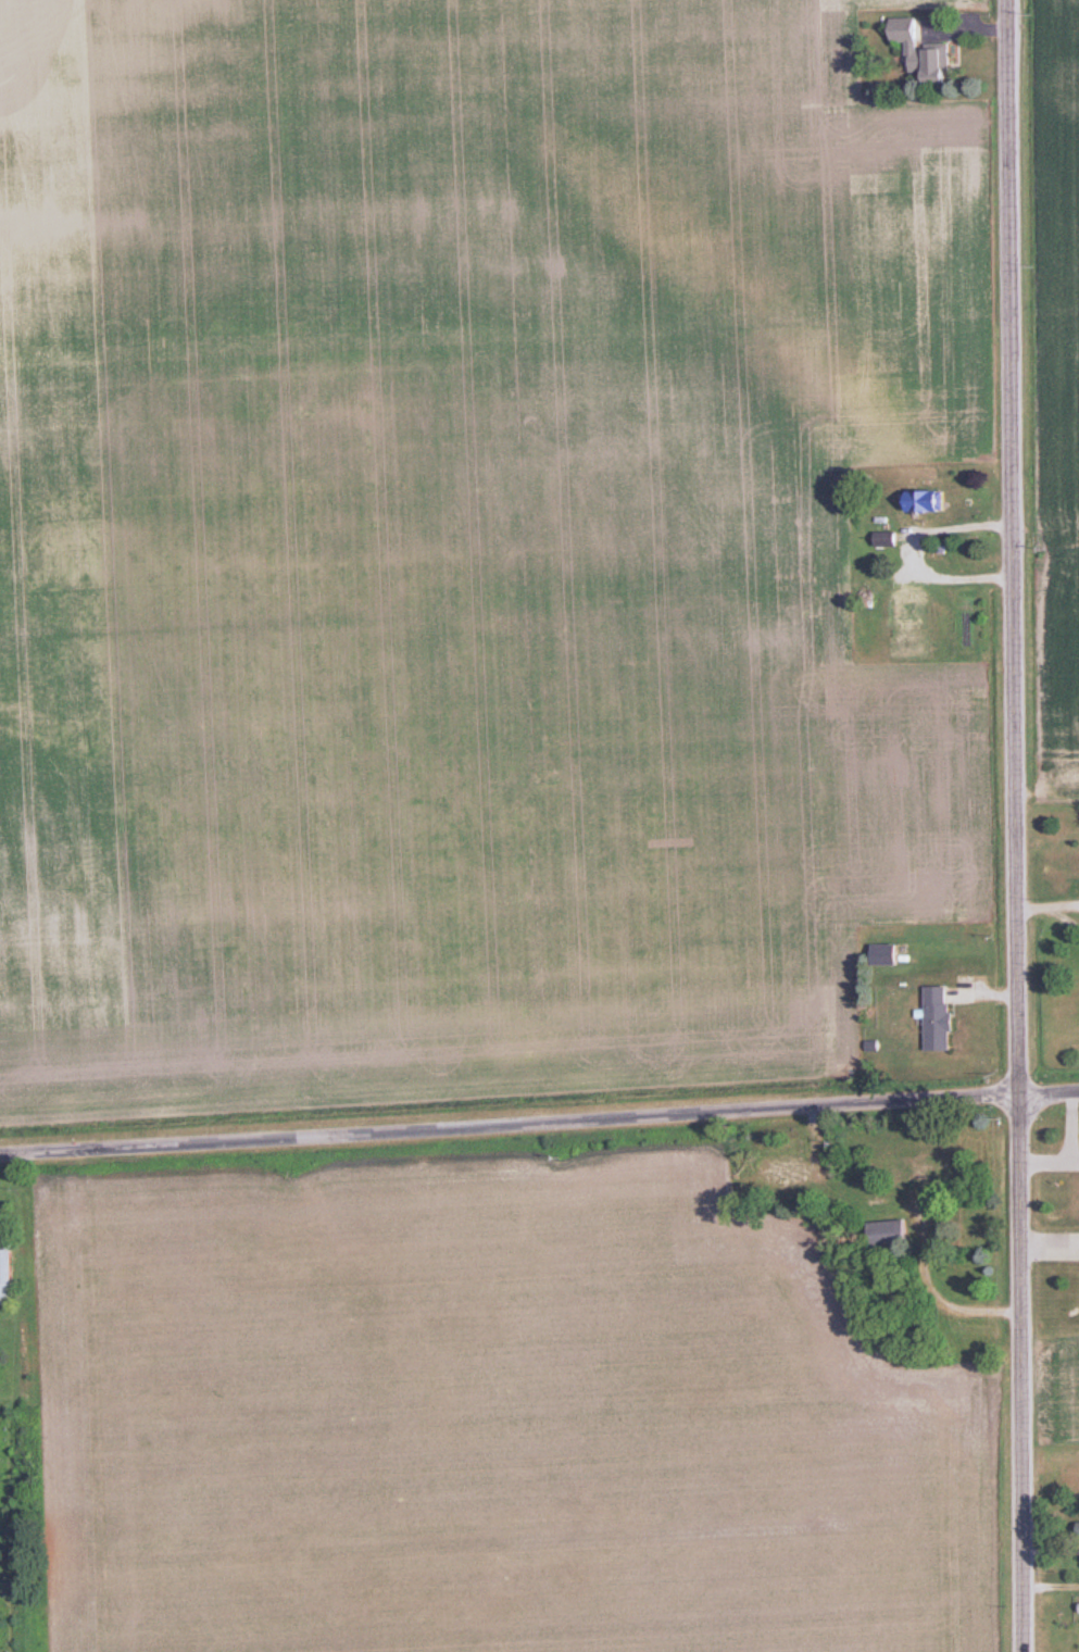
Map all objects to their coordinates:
building: (909, 39)
building: (937, 63)
building: (928, 500)
building: (907, 622)
road: (1015, 825)
building: (886, 953)
building: (939, 1016)
road: (539, 1119)
building: (941, 1167)
building: (782, 1171)
building: (906, 1171)
building: (890, 1234)
building: (5, 1272)

